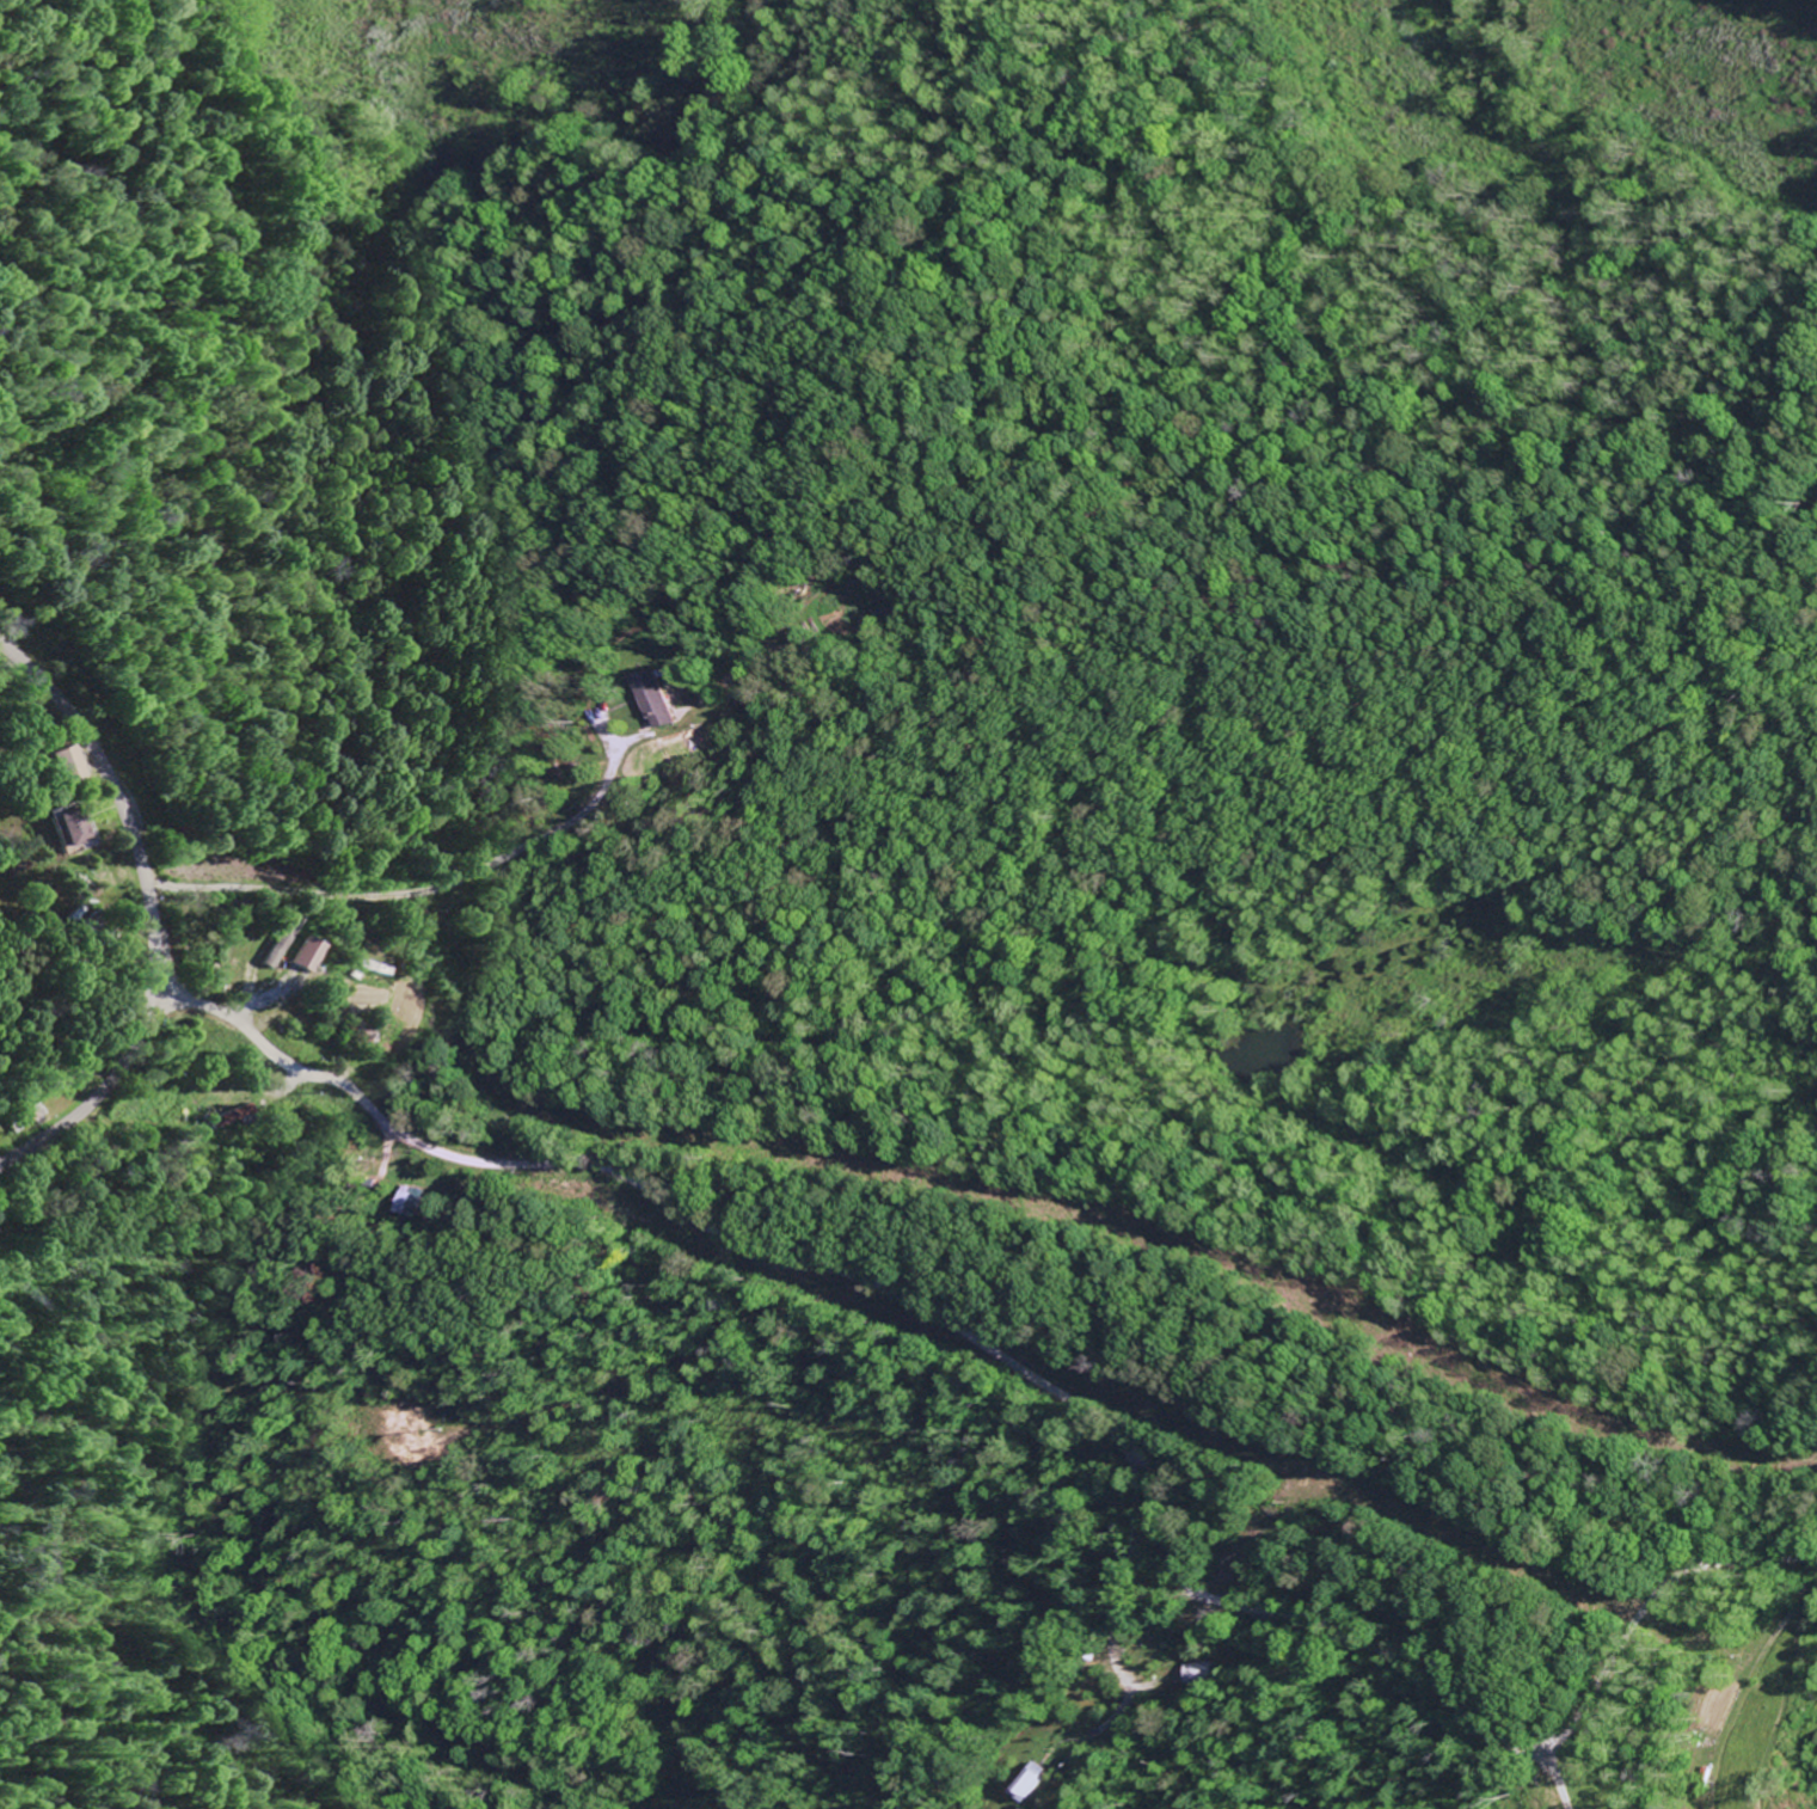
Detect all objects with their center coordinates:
building: (658, 701)
building: (66, 767)
building: (69, 829)
road: (429, 888)
road: (147, 914)
building: (274, 944)
building: (301, 957)
building: (410, 1203)
road: (1043, 1393)
building: (1027, 1783)

